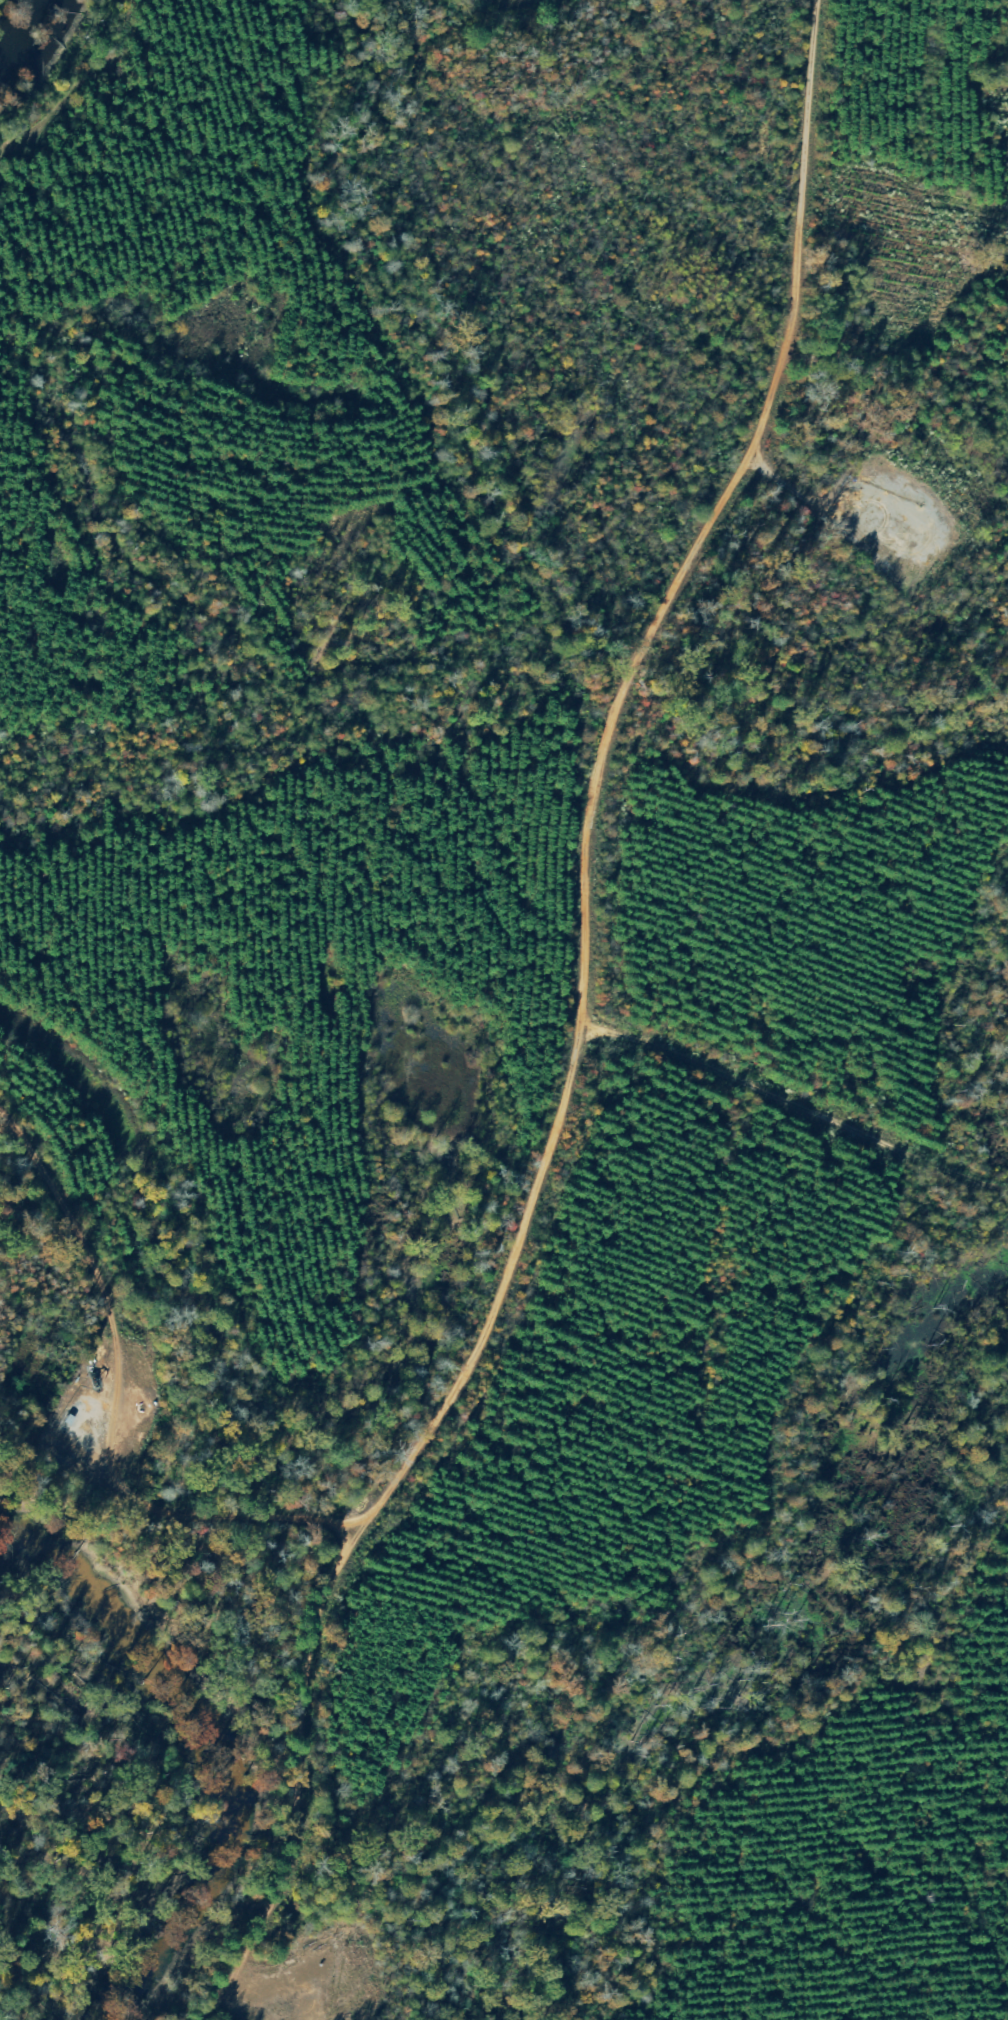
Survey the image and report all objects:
road: (599, 1042)

